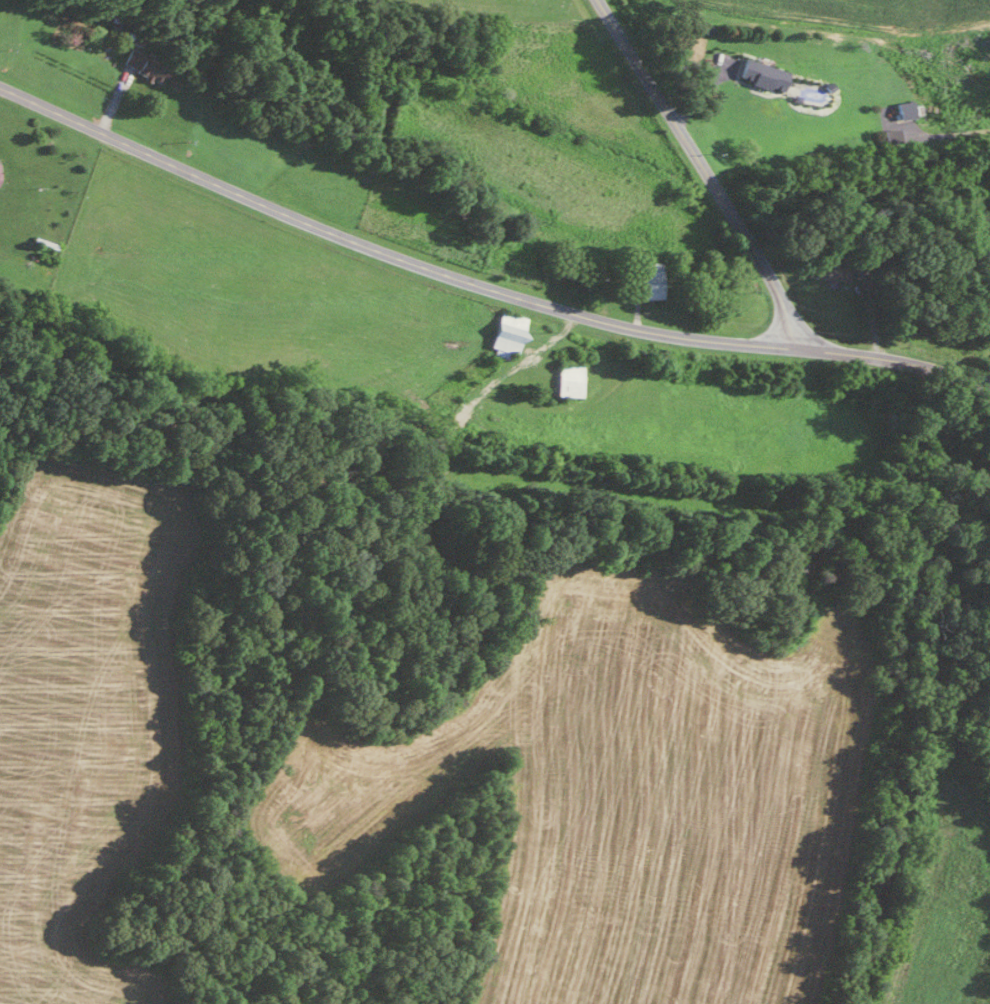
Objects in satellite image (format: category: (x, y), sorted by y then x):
building: (141, 64)
road: (639, 70)
building: (759, 73)
building: (903, 109)
building: (889, 135)
road: (707, 177)
building: (828, 269)
building: (646, 279)
road: (769, 279)
road: (482, 280)
building: (504, 334)
building: (568, 379)

